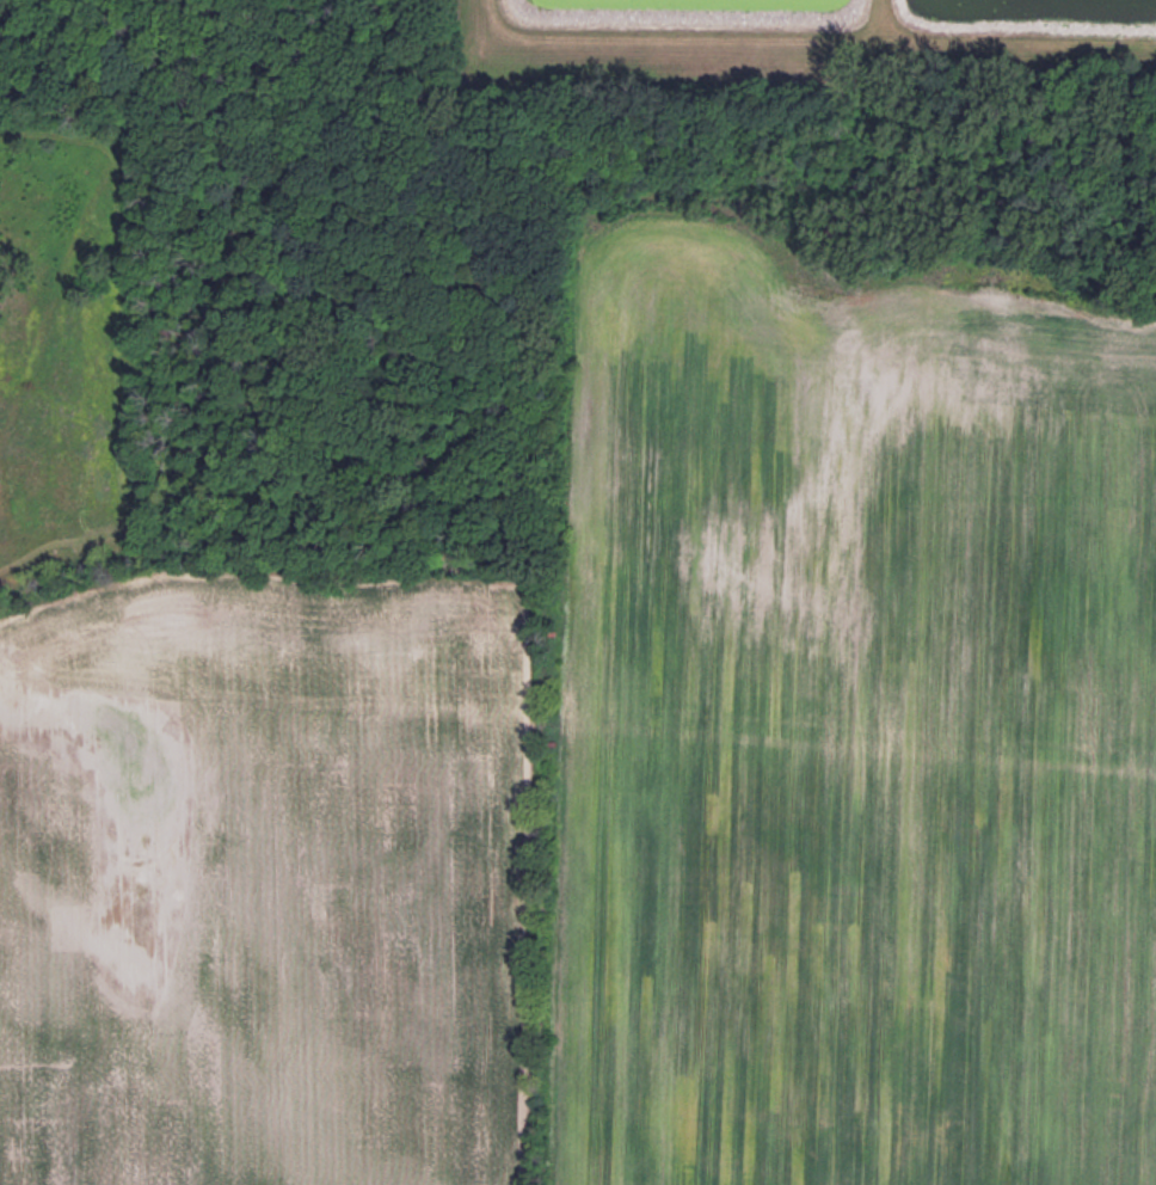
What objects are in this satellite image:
crop: (634, 787)

